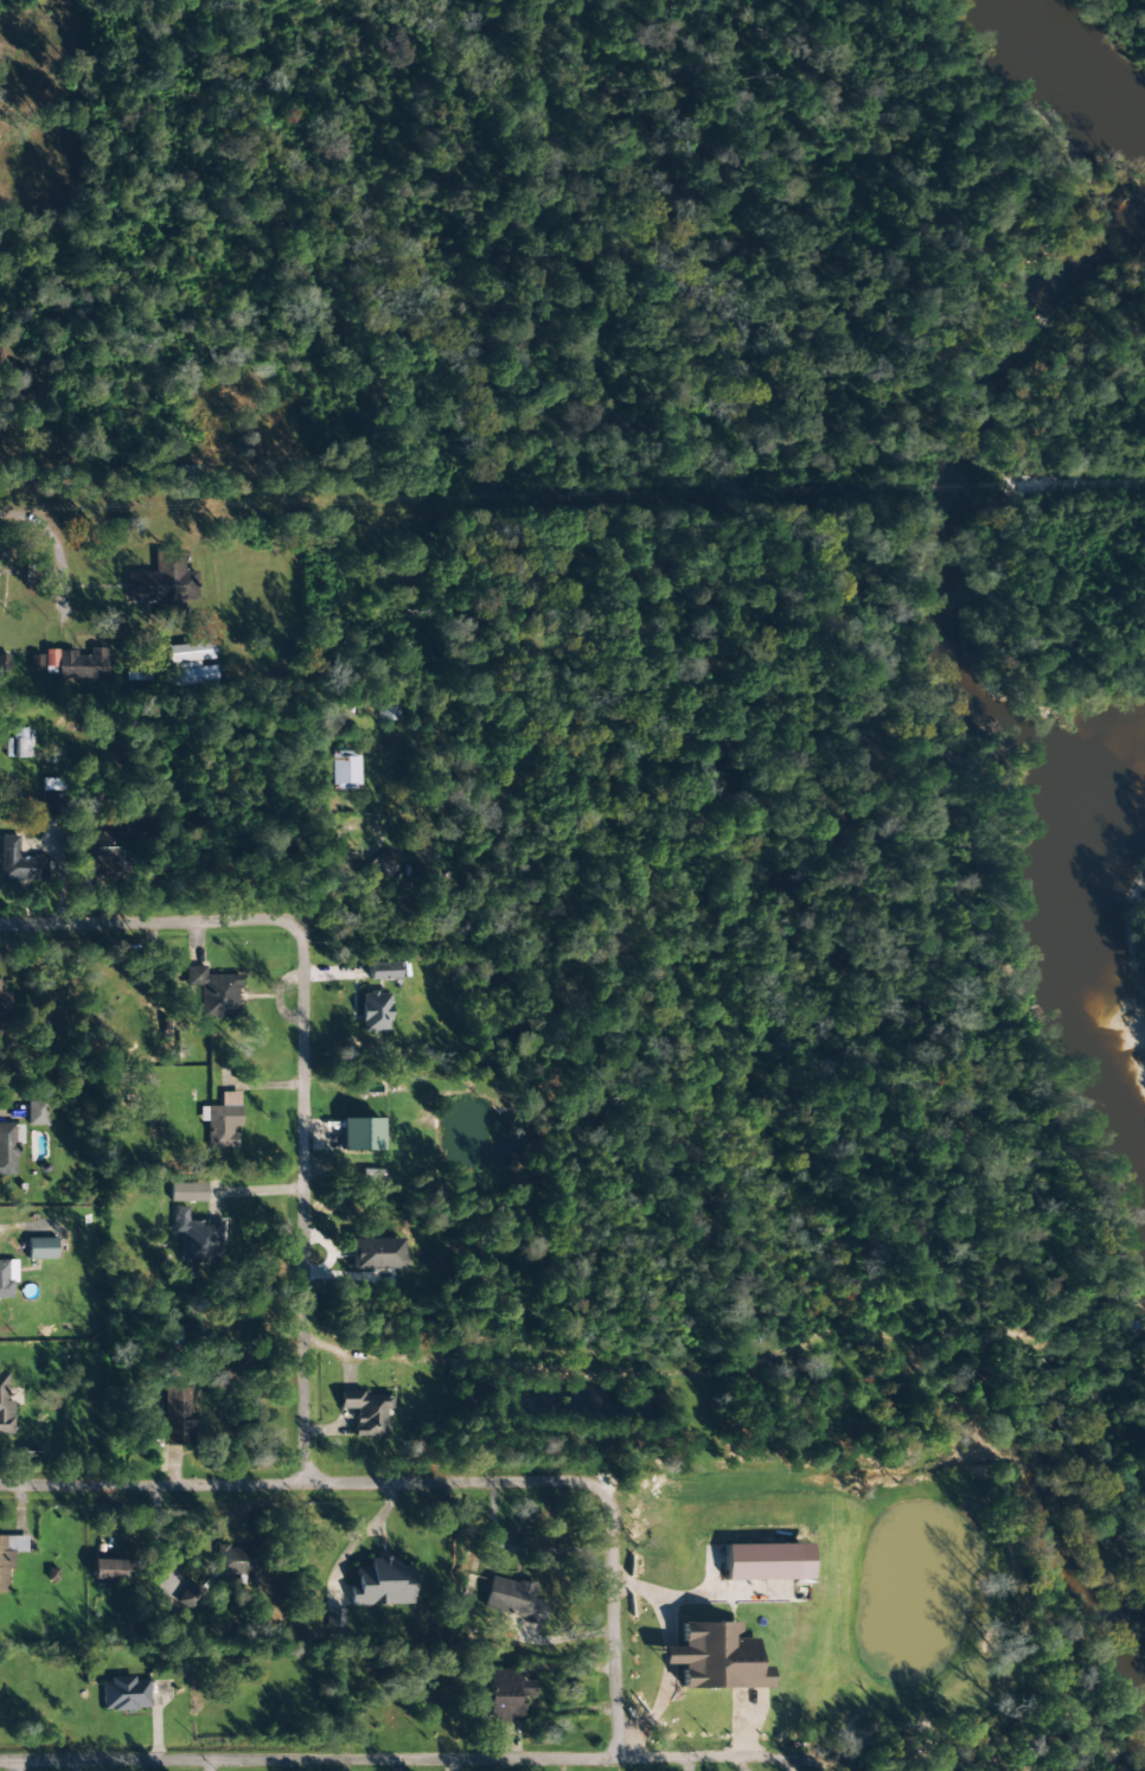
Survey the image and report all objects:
road: (13, 501)
building: (164, 584)
building: (36, 661)
building: (4, 663)
building: (78, 664)
building: (190, 664)
building: (19, 743)
building: (344, 768)
building: (50, 797)
building: (110, 850)
building: (20, 862)
building: (382, 865)
road: (359, 918)
road: (96, 925)
building: (382, 971)
building: (215, 991)
building: (2, 1003)
building: (375, 1011)
building: (34, 1113)
building: (222, 1120)
building: (362, 1134)
building: (8, 1146)
road: (262, 1182)
building: (187, 1191)
building: (198, 1238)
building: (41, 1248)
building: (376, 1253)
building: (7, 1278)
building: (5, 1404)
building: (366, 1411)
building: (178, 1417)
road: (282, 1483)
building: (8, 1555)
building: (236, 1560)
building: (767, 1561)
building: (108, 1569)
building: (382, 1583)
building: (188, 1596)
building: (513, 1600)
road: (596, 1603)
building: (162, 1616)
building: (335, 1617)
building: (715, 1657)
building: (124, 1694)
building: (507, 1695)
road: (661, 1740)
road: (301, 1753)

